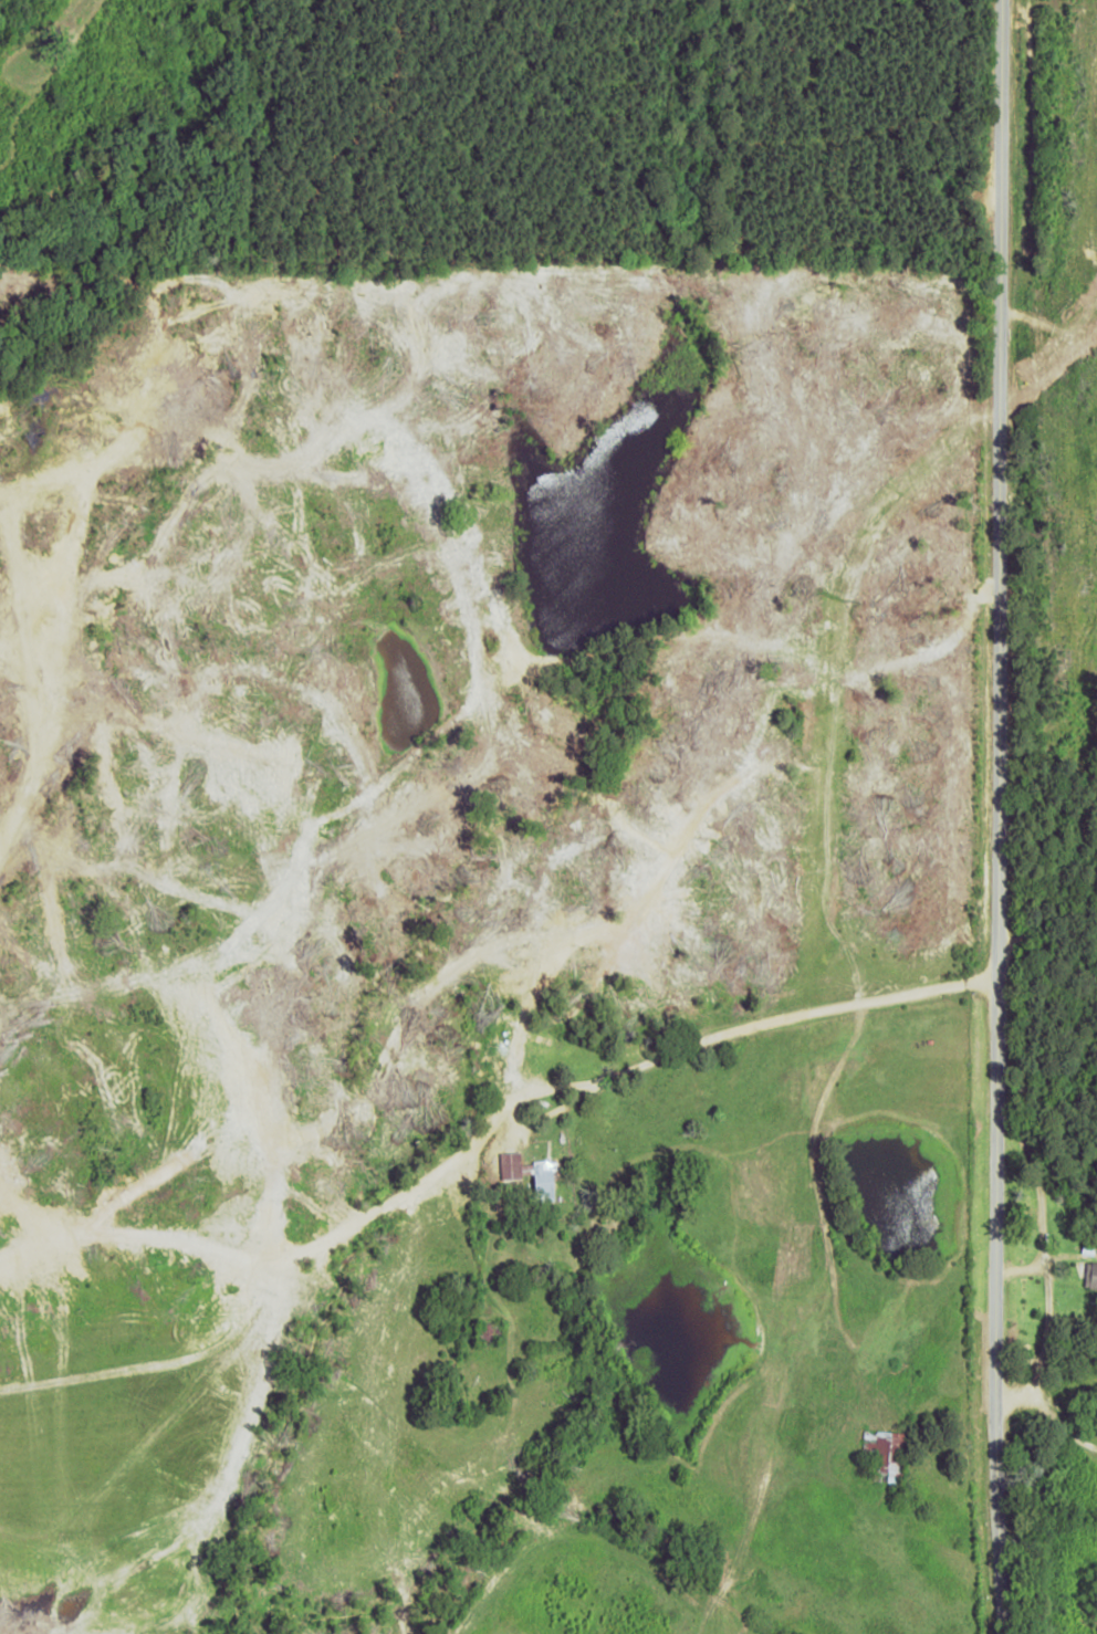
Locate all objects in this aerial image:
road: (1018, 816)
road: (1063, 881)
building: (511, 1165)
building: (545, 1180)
building: (1094, 1276)
building: (888, 1454)

